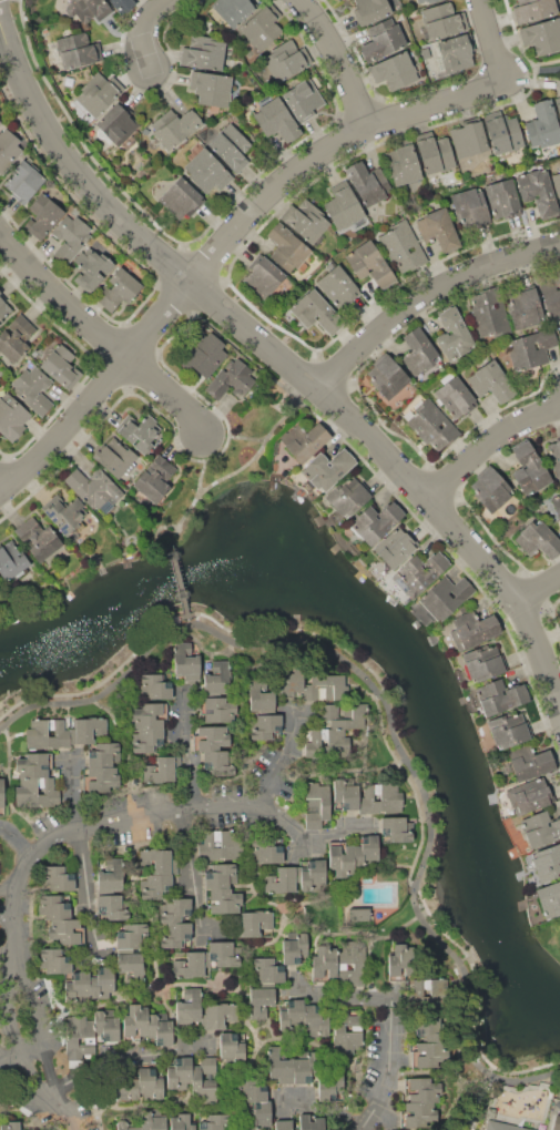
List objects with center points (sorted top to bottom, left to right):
building: (419, 1)
building: (430, 1)
building: (120, 4)
building: (533, 9)
building: (86, 10)
building: (370, 10)
building: (233, 11)
building: (442, 20)
building: (262, 27)
road: (146, 29)
building: (542, 35)
building: (383, 40)
building: (78, 50)
building: (203, 52)
building: (425, 53)
building: (456, 53)
building: (286, 60)
road: (334, 62)
road: (530, 70)
building: (394, 71)
building: (211, 88)
building: (98, 93)
building: (303, 99)
building: (558, 104)
building: (276, 120)
building: (118, 125)
building: (543, 125)
building: (174, 126)
building: (503, 134)
building: (469, 144)
building: (9, 146)
building: (231, 147)
building: (435, 154)
building: (403, 163)
building: (559, 171)
building: (206, 172)
building: (23, 181)
building: (367, 183)
building: (557, 183)
building: (538, 193)
building: (182, 198)
building: (502, 200)
building: (343, 208)
building: (470, 208)
road: (253, 213)
building: (43, 215)
building: (307, 221)
building: (438, 228)
building: (70, 237)
building: (403, 246)
building: (287, 247)
building: (369, 265)
building: (93, 267)
building: (263, 277)
building: (337, 286)
building: (118, 289)
building: (550, 289)
building: (0, 292)
road: (427, 297)
building: (3, 308)
building: (525, 308)
building: (316, 313)
building: (489, 314)
building: (559, 324)
road: (102, 332)
building: (452, 334)
building: (17, 337)
building: (530, 349)
road: (272, 352)
building: (418, 352)
building: (205, 354)
building: (61, 366)
building: (387, 377)
building: (232, 381)
building: (491, 381)
building: (33, 389)
building: (456, 395)
building: (11, 417)
building: (430, 425)
building: (139, 431)
building: (559, 438)
building: (304, 440)
road: (491, 440)
road: (261, 448)
building: (554, 455)
building: (115, 457)
building: (328, 468)
building: (529, 470)
building: (155, 479)
road: (195, 488)
building: (94, 489)
building: (490, 490)
building: (559, 490)
building: (349, 497)
building: (557, 503)
building: (64, 513)
building: (376, 522)
building: (38, 539)
building: (538, 540)
building: (396, 547)
building: (11, 561)
building: (419, 572)
road: (179, 576)
road: (539, 583)
building: (447, 597)
building: (421, 614)
building: (471, 629)
building: (485, 661)
building: (185, 662)
building: (218, 678)
building: (291, 681)
building: (154, 686)
building: (325, 688)
building: (262, 693)
building: (500, 696)
road: (390, 704)
building: (217, 710)
building: (149, 715)
building: (345, 715)
building: (266, 727)
building: (89, 729)
building: (509, 729)
building: (47, 734)
building: (211, 739)
building: (146, 740)
building: (324, 744)
building: (103, 755)
road: (186, 755)
building: (216, 761)
building: (530, 762)
building: (33, 765)
road: (279, 765)
building: (161, 770)
building: (100, 780)
building: (37, 792)
building: (530, 795)
building: (1, 796)
building: (346, 796)
building: (381, 798)
building: (317, 805)
building: (540, 828)
building: (396, 829)
road: (52, 834)
road: (14, 842)
building: (221, 845)
building: (266, 849)
building: (366, 849)
road: (183, 851)
building: (342, 859)
building: (156, 862)
building: (547, 863)
building: (111, 875)
building: (221, 875)
building: (313, 875)
building: (58, 878)
building: (284, 879)
road: (85, 886)
building: (155, 886)
building: (222, 899)
building: (549, 899)
building: (54, 906)
building: (112, 907)
building: (175, 910)
road: (8, 913)
building: (255, 923)
building: (67, 930)
building: (176, 935)
building: (132, 936)
building: (294, 946)
building: (224, 954)
building: (54, 960)
building: (401, 961)
building: (191, 965)
building: (323, 965)
building: (349, 966)
building: (131, 968)
building: (267, 968)
building: (102, 983)
building: (78, 985)
building: (429, 994)
building: (259, 1001)
building: (189, 1005)
building: (217, 1016)
building: (292, 1016)
building: (316, 1020)
building: (346, 1020)
road: (393, 1020)
building: (138, 1022)
building: (105, 1028)
building: (430, 1028)
building: (79, 1030)
building: (163, 1031)
building: (347, 1042)
building: (232, 1047)
building: (429, 1055)
road: (121, 1057)
road: (14, 1060)
building: (295, 1066)
building: (179, 1072)
building: (204, 1080)
building: (152, 1082)
building: (333, 1087)
building: (129, 1088)
building: (250, 1090)
building: (421, 1090)
building: (558, 1093)
road: (477, 1097)
road: (327, 1110)
building: (418, 1114)
building: (257, 1116)
building: (154, 1119)
building: (181, 1121)
building: (216, 1122)
building: (313, 1122)
building: (9, 1124)
building: (283, 1124)
building: (558, 1124)
building: (124, 1126)
building: (507, 1126)

